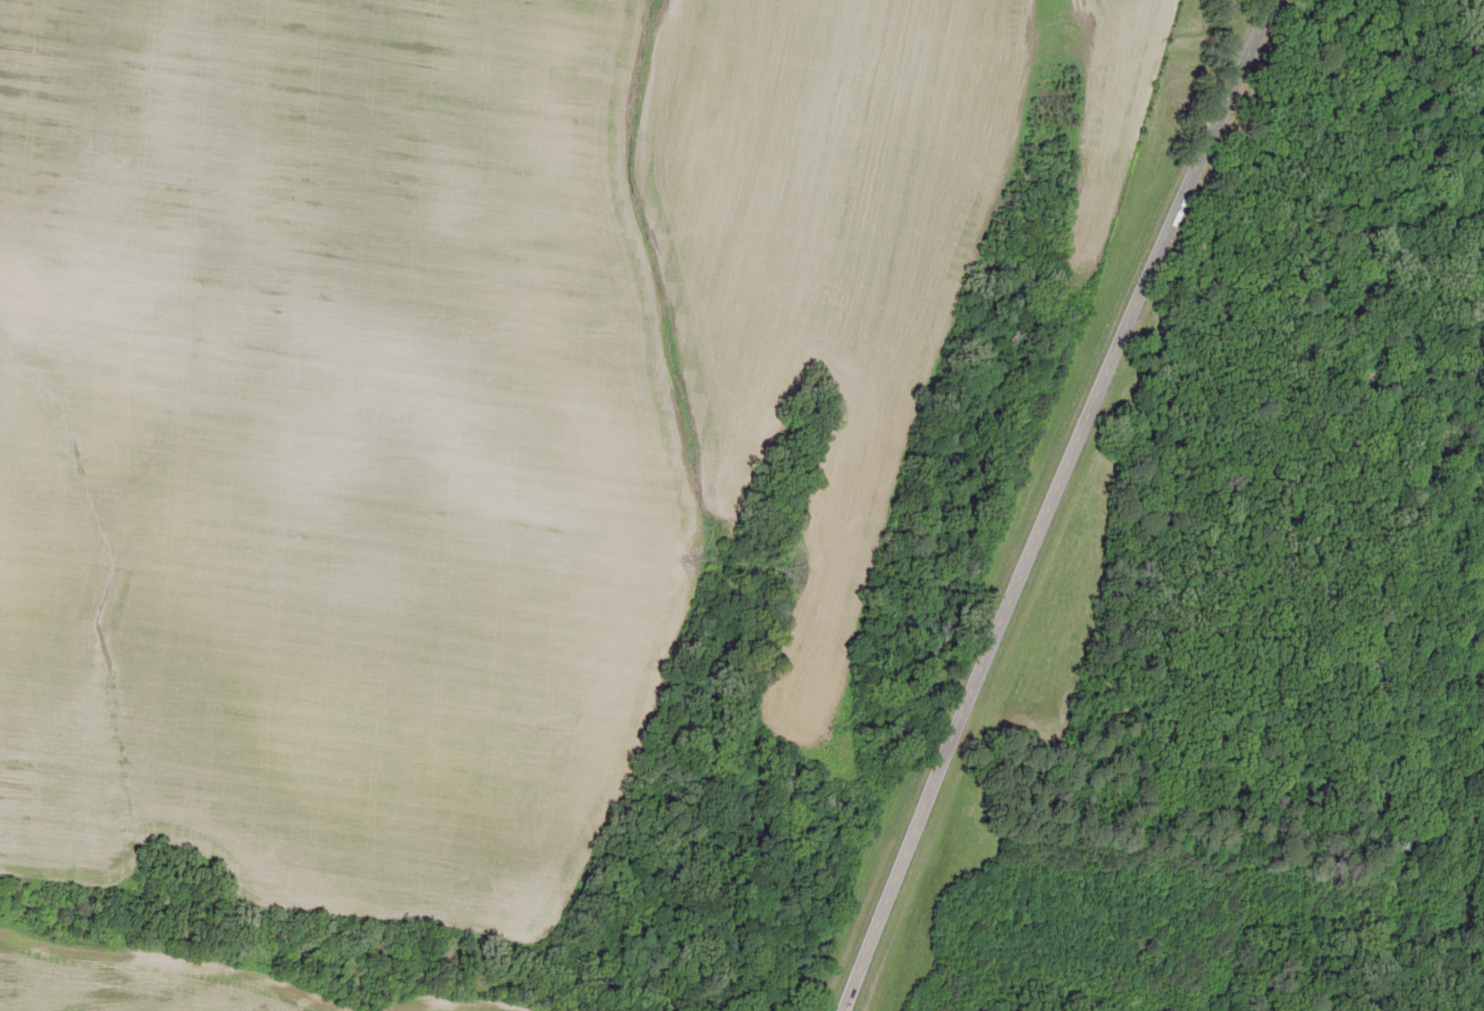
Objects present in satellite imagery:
road: (1040, 498)

